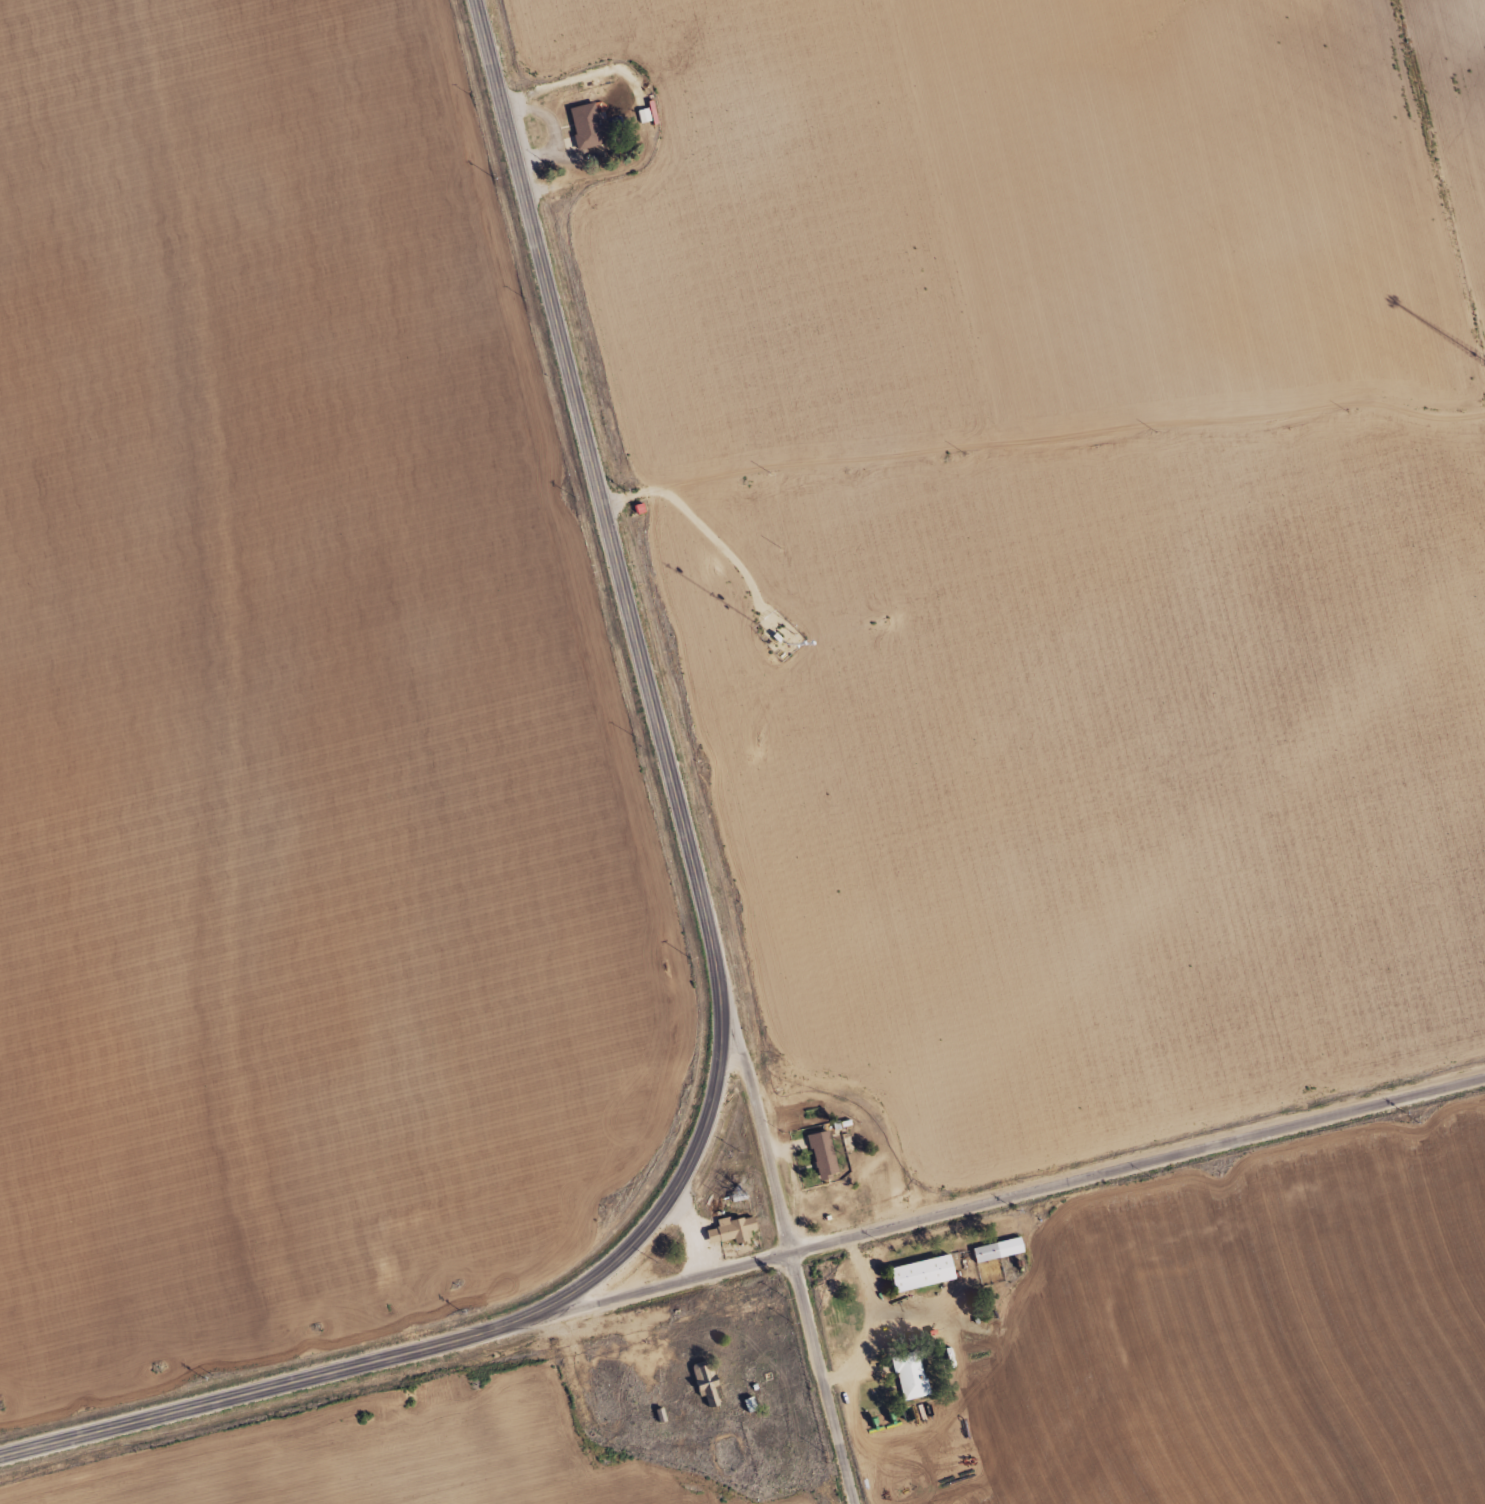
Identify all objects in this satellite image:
building: (584, 124)
road: (714, 955)
building: (821, 1153)
road: (1137, 1164)
building: (729, 1229)
building: (984, 1251)
road: (793, 1265)
building: (918, 1272)
road: (669, 1283)
building: (909, 1376)
building: (705, 1384)

